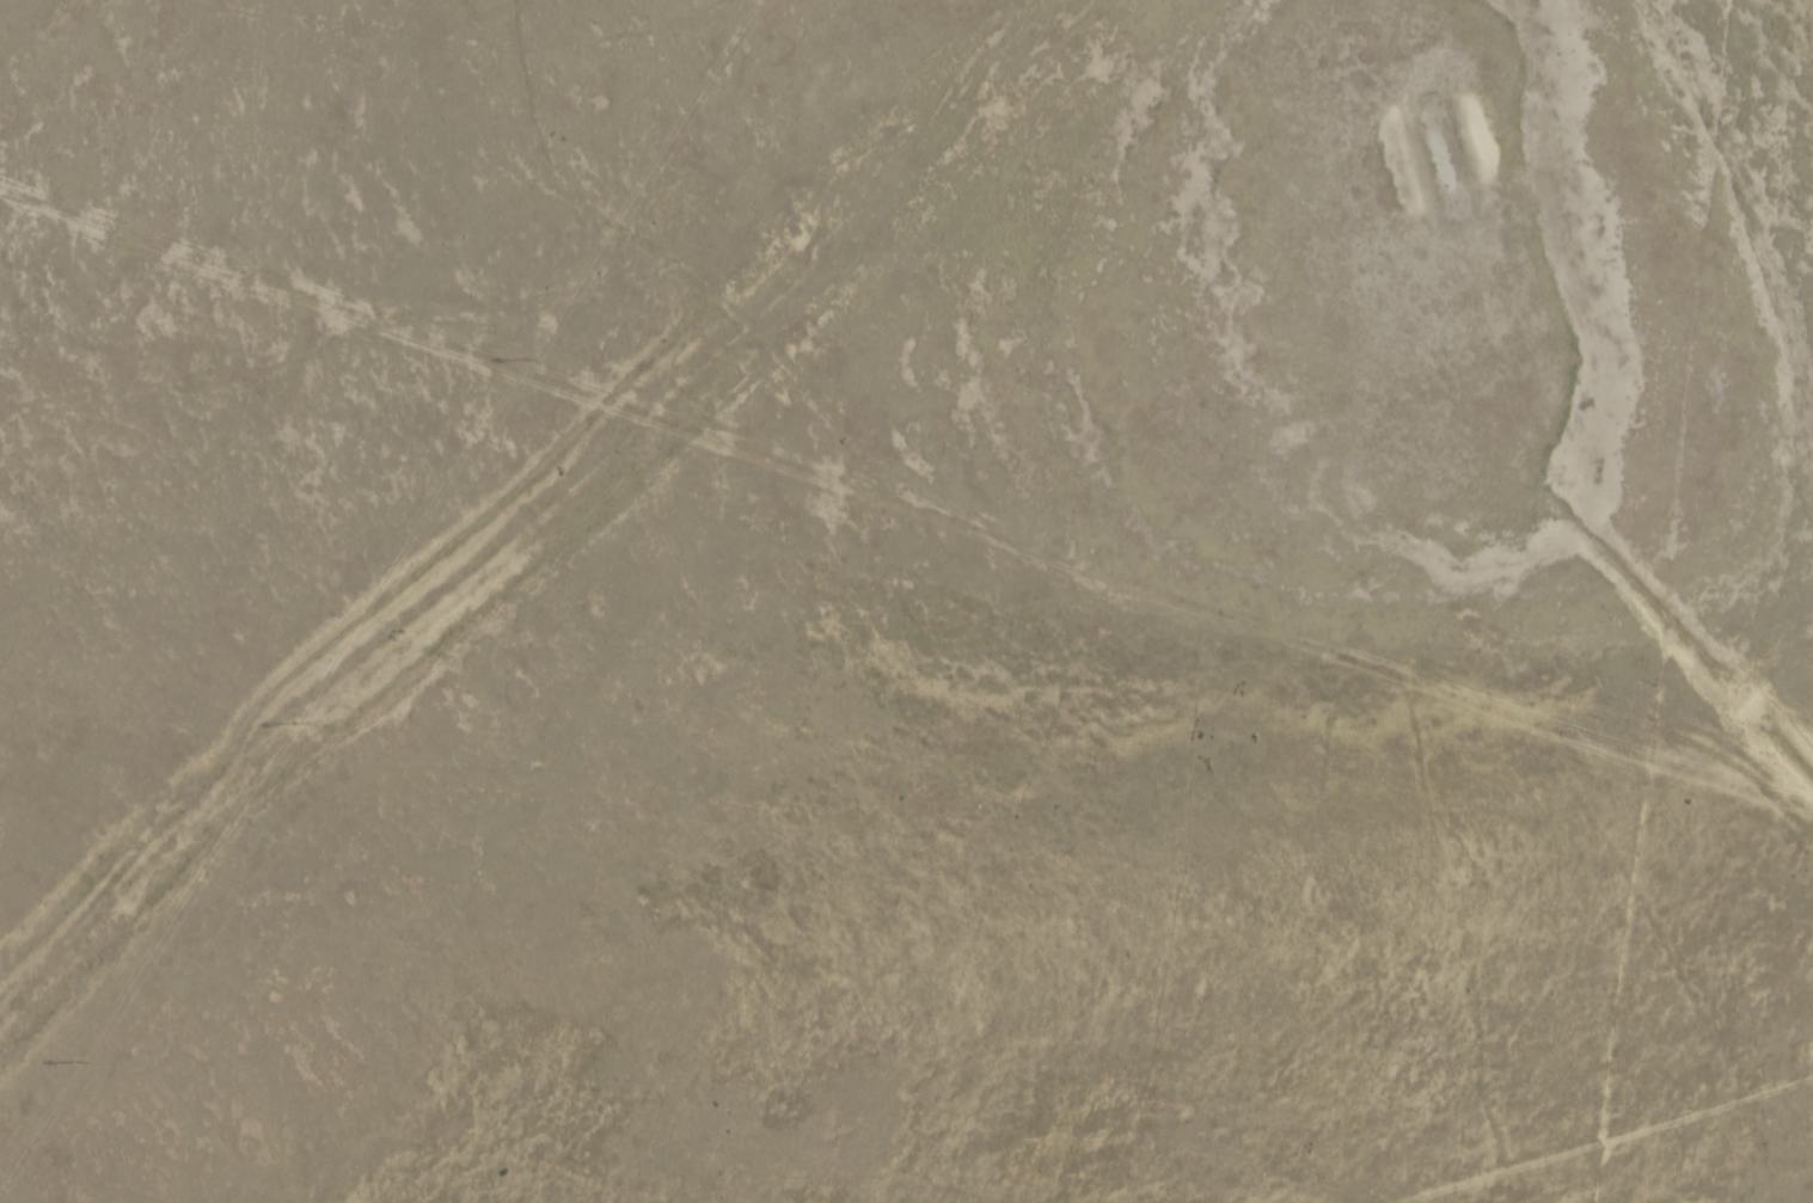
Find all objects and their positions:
road: (804, 883)

